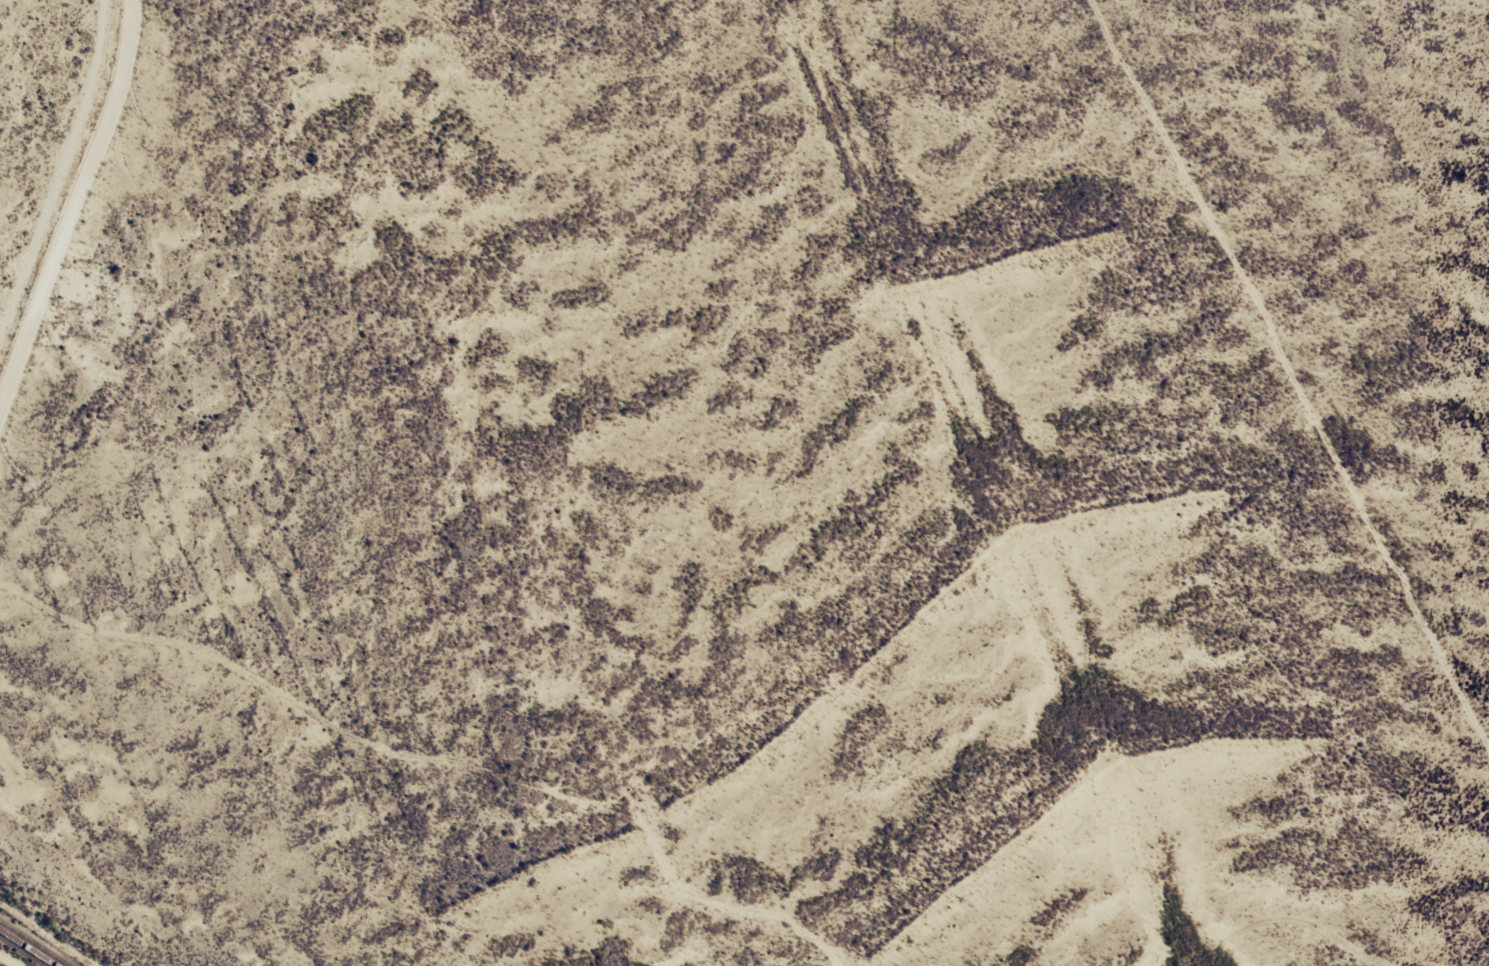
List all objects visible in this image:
road: (75, 210)
railway: (34, 943)
railway: (27, 948)

